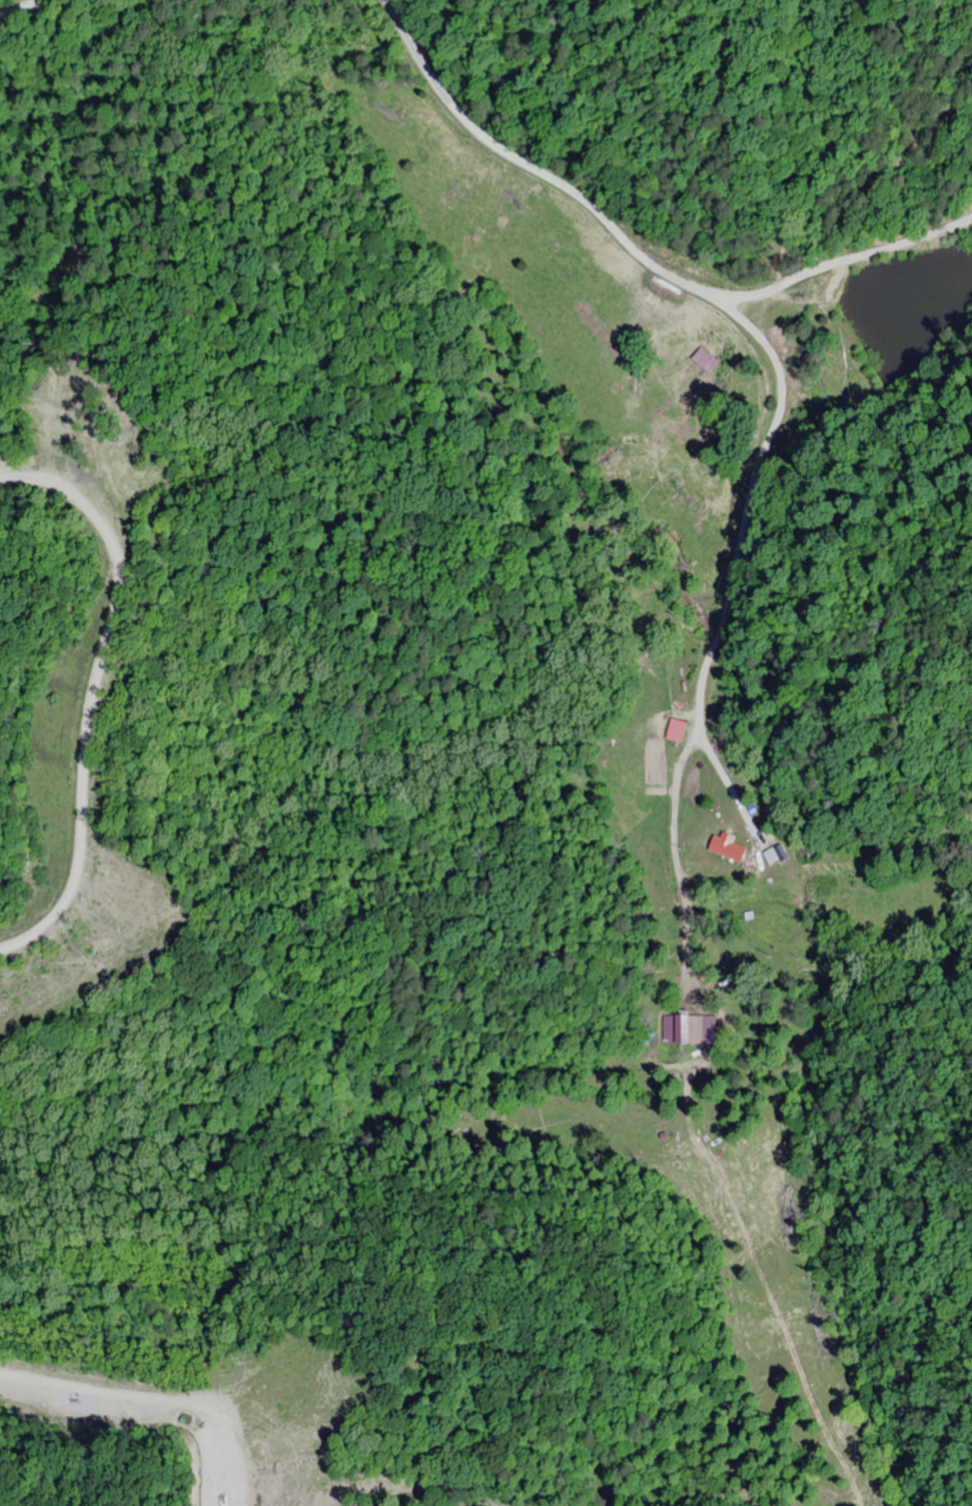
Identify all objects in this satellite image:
road: (692, 286)
road: (699, 715)
building: (675, 730)
building: (725, 846)
building: (671, 1028)
building: (695, 1029)

